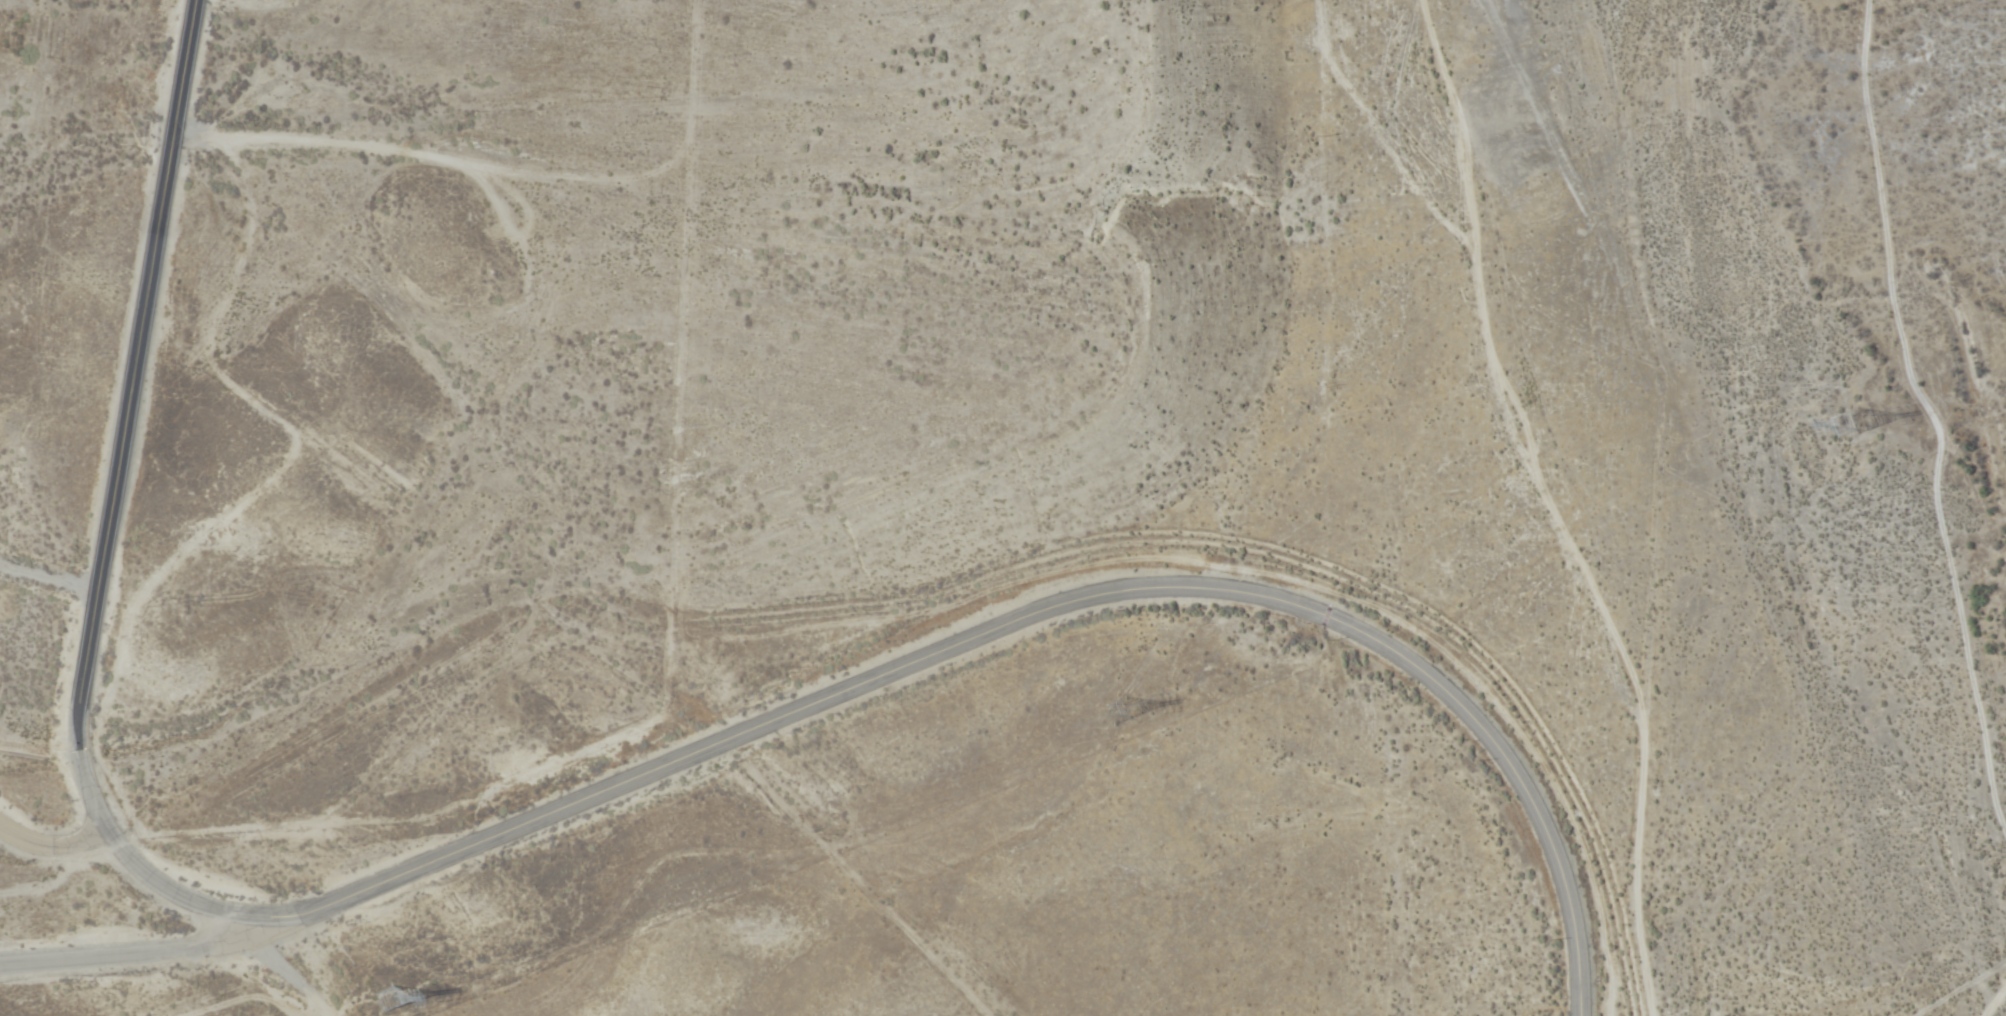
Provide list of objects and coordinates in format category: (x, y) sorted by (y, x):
power tower: (1849, 432)
road: (1608, 514)
power tower: (1121, 720)
road: (544, 814)
road: (51, 846)
road: (865, 890)
road: (128, 955)
road: (281, 970)
power tower: (385, 1010)

